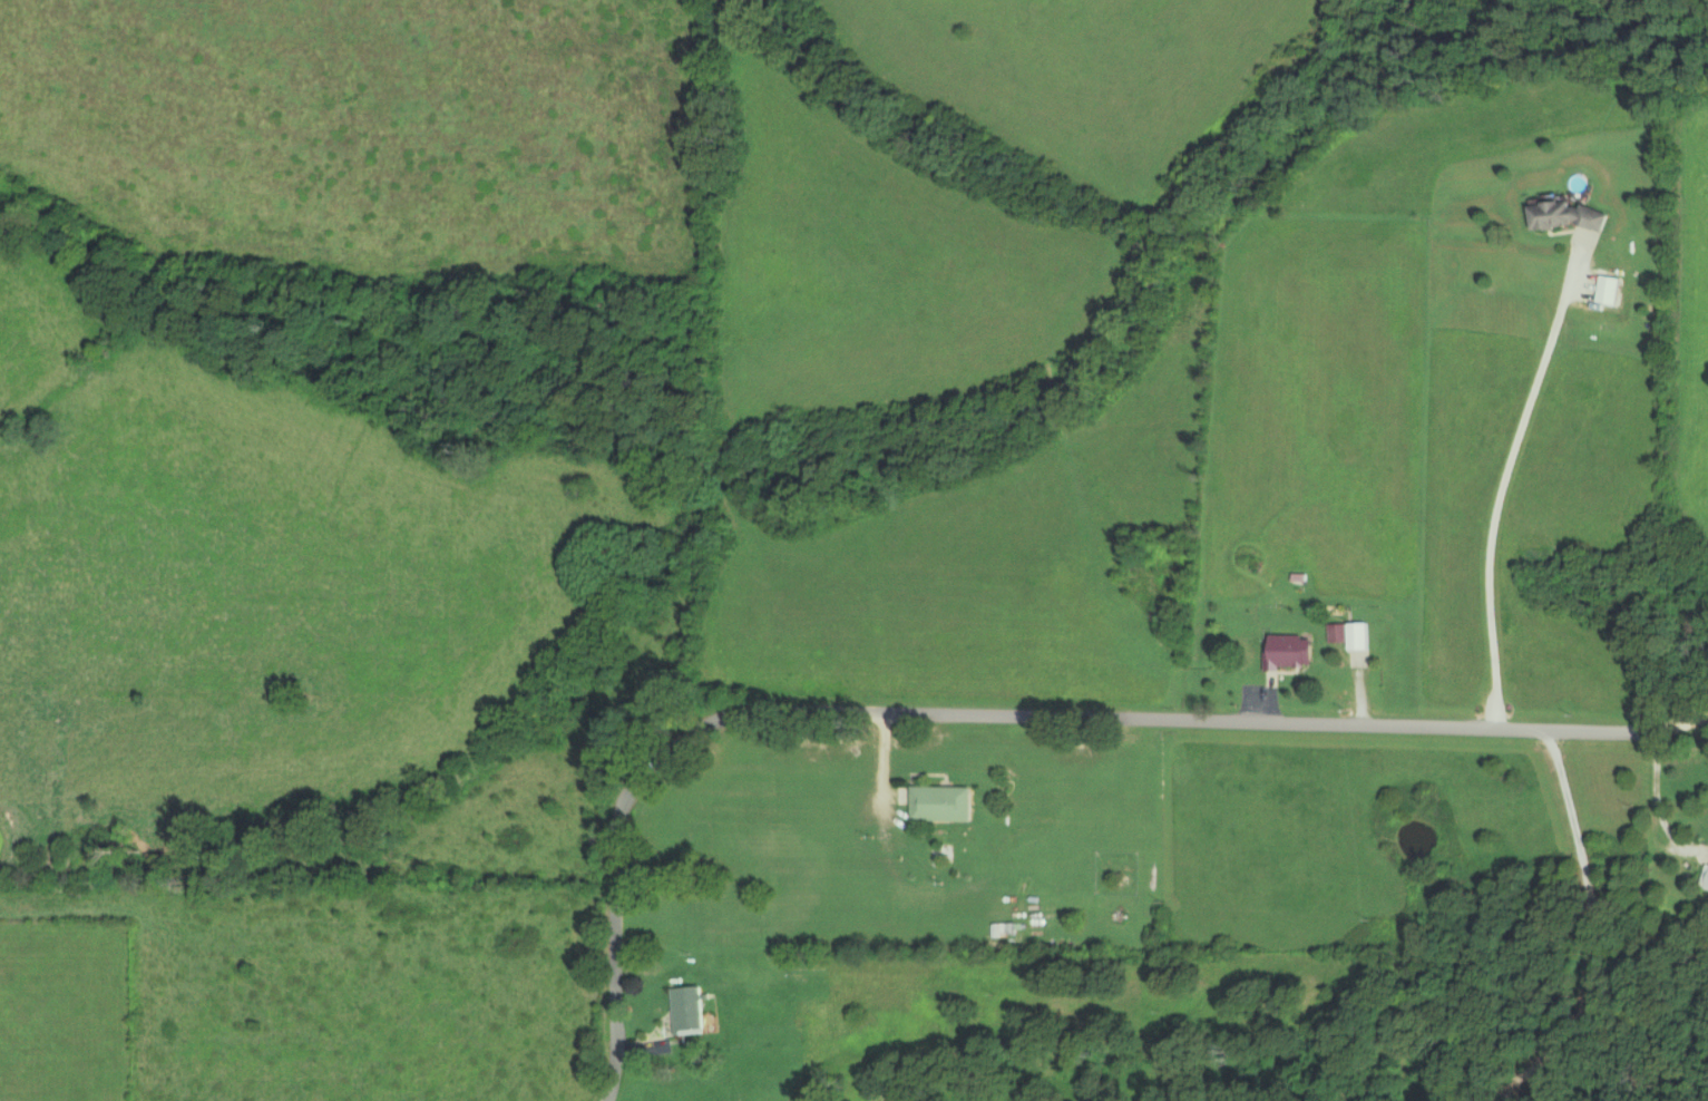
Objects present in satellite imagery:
building: (1569, 216)
building: (1612, 289)
road: (1505, 479)
building: (1341, 633)
building: (1364, 636)
building: (1294, 653)
road: (1359, 688)
road: (997, 713)
building: (944, 803)
road: (1653, 803)
road: (1597, 925)
building: (691, 1010)

